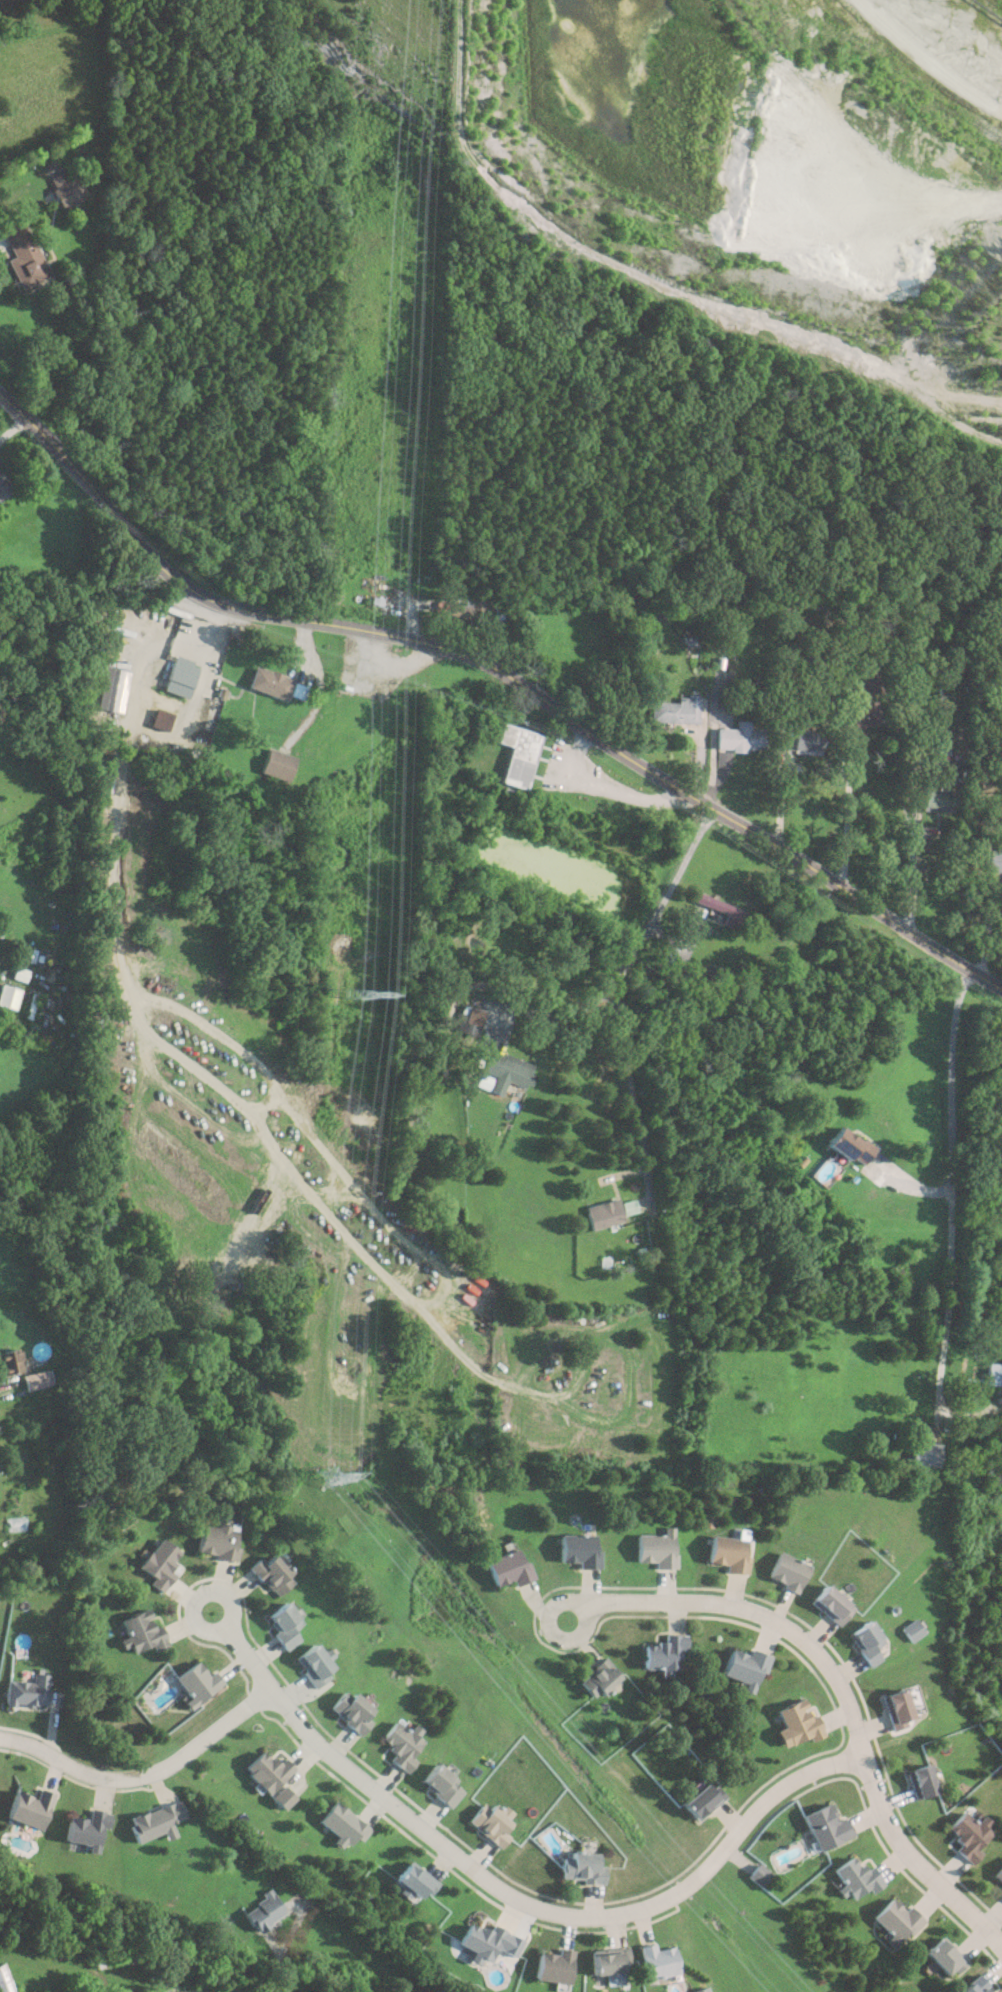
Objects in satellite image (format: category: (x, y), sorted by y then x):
building: (66, 189)
building: (25, 255)
road: (12, 427)
building: (3, 486)
road: (414, 609)
building: (464, 610)
road: (398, 658)
road: (499, 669)
building: (178, 678)
building: (267, 682)
building: (870, 682)
building: (111, 690)
building: (673, 710)
building: (862, 713)
building: (159, 719)
building: (737, 738)
building: (805, 741)
building: (514, 753)
building: (274, 764)
building: (101, 778)
road: (623, 792)
road: (848, 796)
building: (937, 799)
building: (994, 859)
road: (912, 874)
building: (723, 910)
road: (626, 959)
road: (123, 968)
power tower: (350, 995)
building: (8, 996)
building: (468, 1021)
building: (503, 1070)
road: (630, 1098)
building: (844, 1146)
road: (957, 1185)
building: (602, 1213)
road: (438, 1297)
building: (7, 1362)
building: (993, 1374)
building: (32, 1380)
building: (921, 1454)
power tower: (326, 1477)
building: (213, 1542)
building: (654, 1549)
building: (576, 1551)
building: (725, 1554)
building: (157, 1564)
building: (506, 1568)
building: (782, 1573)
building: (267, 1574)
road: (221, 1592)
building: (826, 1606)
road: (580, 1607)
building: (280, 1625)
building: (141, 1631)
building: (907, 1631)
building: (862, 1643)
building: (661, 1652)
building: (311, 1666)
building: (742, 1669)
building: (597, 1678)
building: (198, 1683)
building: (30, 1691)
road: (843, 1697)
building: (893, 1709)
building: (349, 1712)
building: (795, 1723)
building: (401, 1745)
building: (268, 1770)
road: (147, 1781)
building: (920, 1782)
building: (440, 1786)
building: (284, 1798)
building: (700, 1800)
building: (31, 1806)
building: (158, 1821)
building: (491, 1822)
building: (343, 1824)
building: (825, 1827)
building: (88, 1828)
building: (967, 1834)
building: (580, 1868)
building: (998, 1875)
building: (855, 1878)
building: (416, 1879)
building: (1001, 1893)
road: (520, 1900)
building: (265, 1910)
building: (895, 1921)
building: (483, 1939)
building: (942, 1956)
building: (608, 1960)
building: (658, 1960)
building: (554, 1964)
building: (4, 1978)
building: (973, 1986)
building: (702, 1990)

